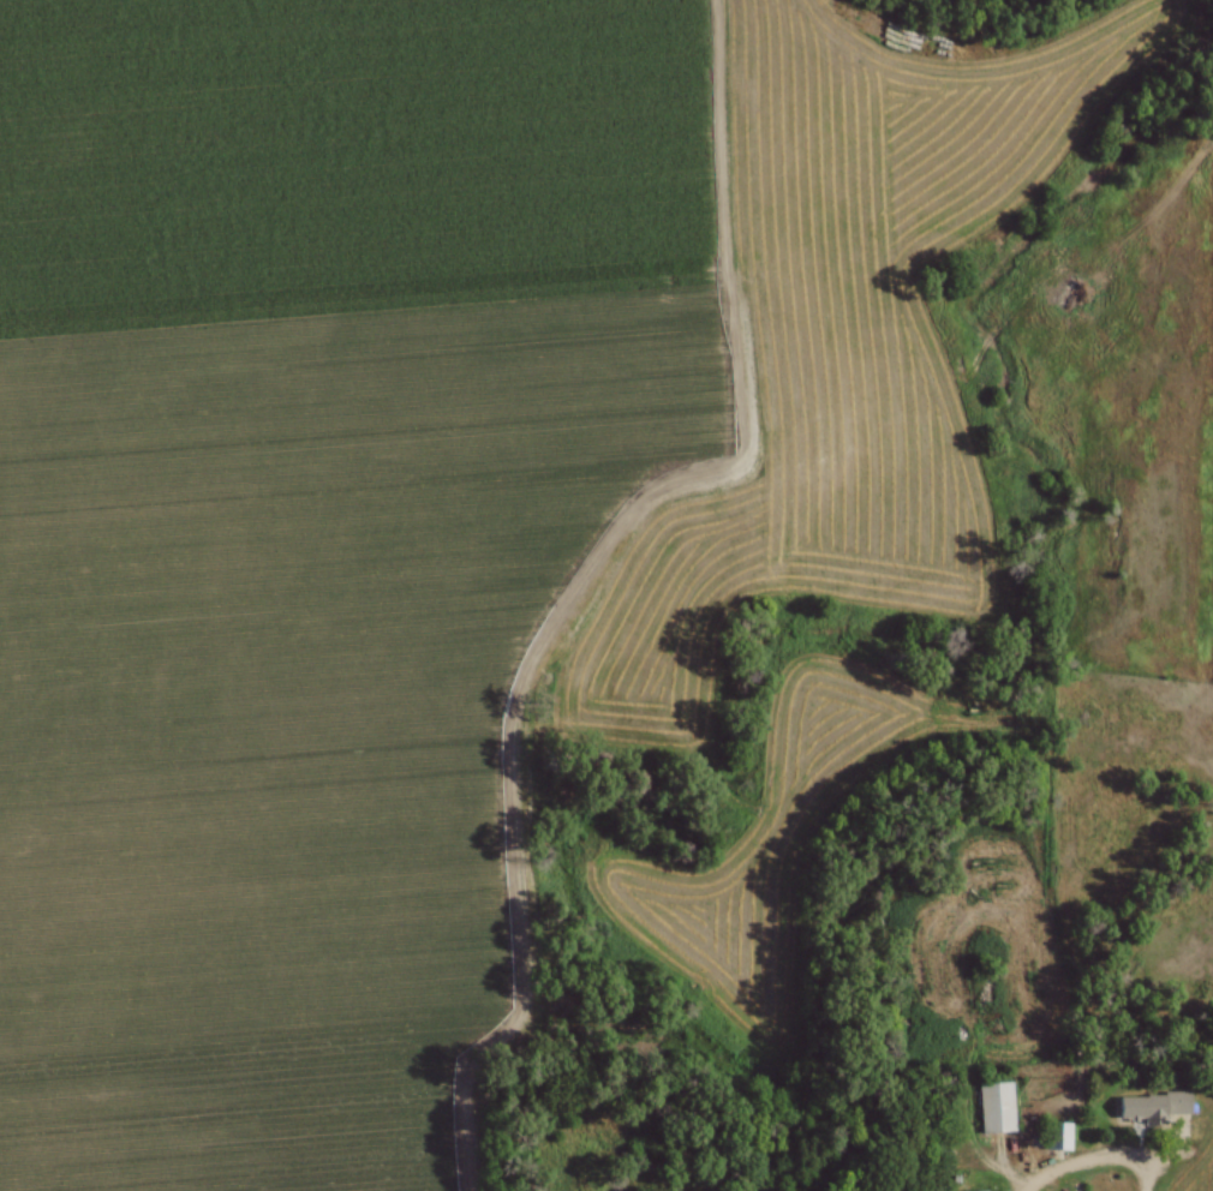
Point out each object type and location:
crop: (1212, 163)
crop: (419, 497)
building: (992, 1105)
building: (1153, 1105)
silo: (926, 1129)
silo: (950, 1135)
building: (1056, 1136)
silo: (926, 1144)
road: (1172, 1149)
road: (1093, 1160)

